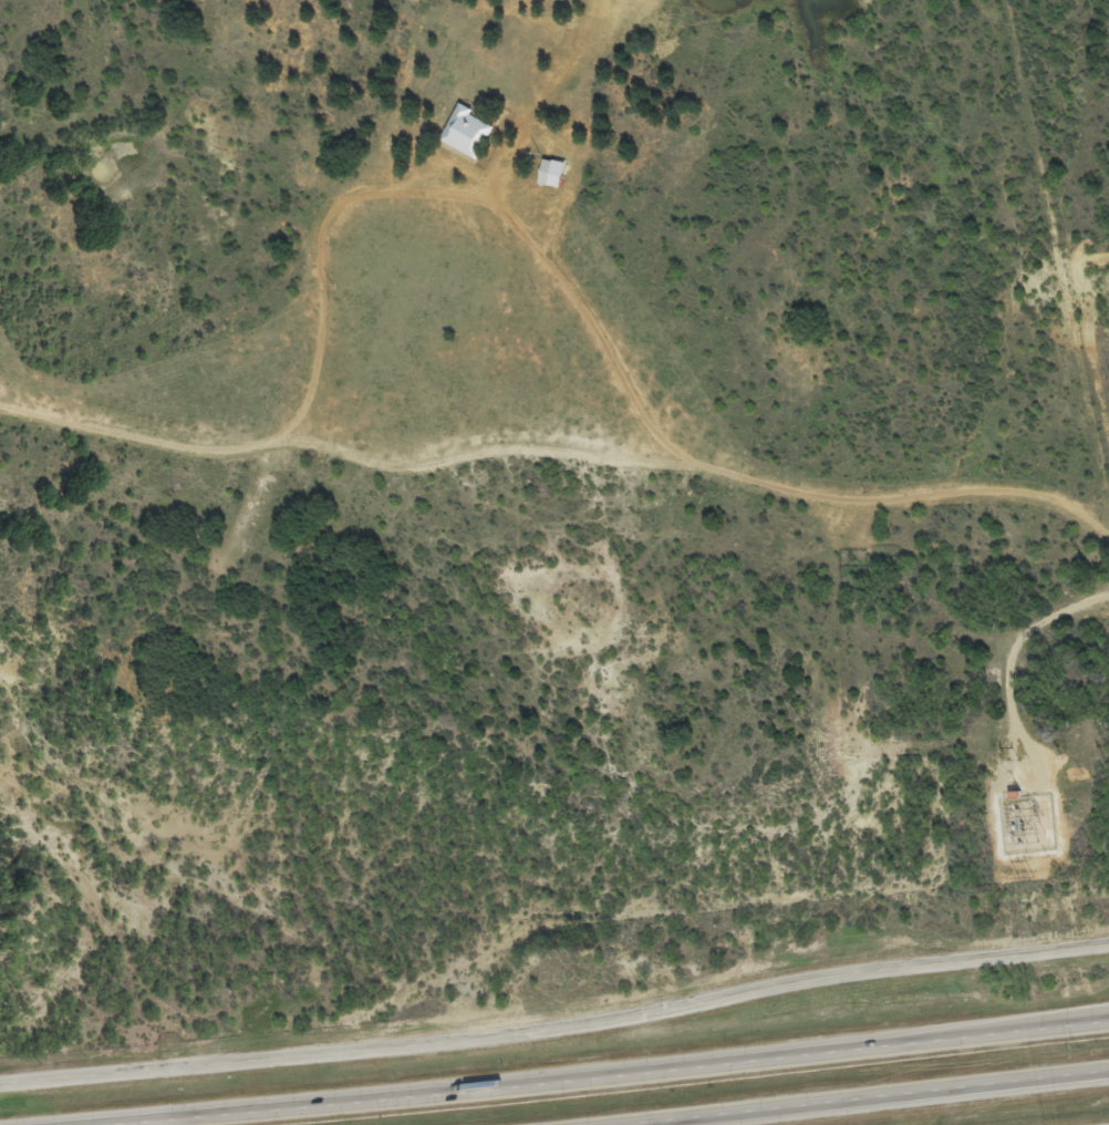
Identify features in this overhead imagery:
building: (462, 141)
building: (547, 182)
road: (462, 202)
road: (558, 462)
power substation: (1028, 824)
power tower: (1028, 877)
road: (992, 957)
road: (696, 1007)
road: (995, 1026)
road: (258, 1061)
road: (597, 1075)
road: (853, 1097)

